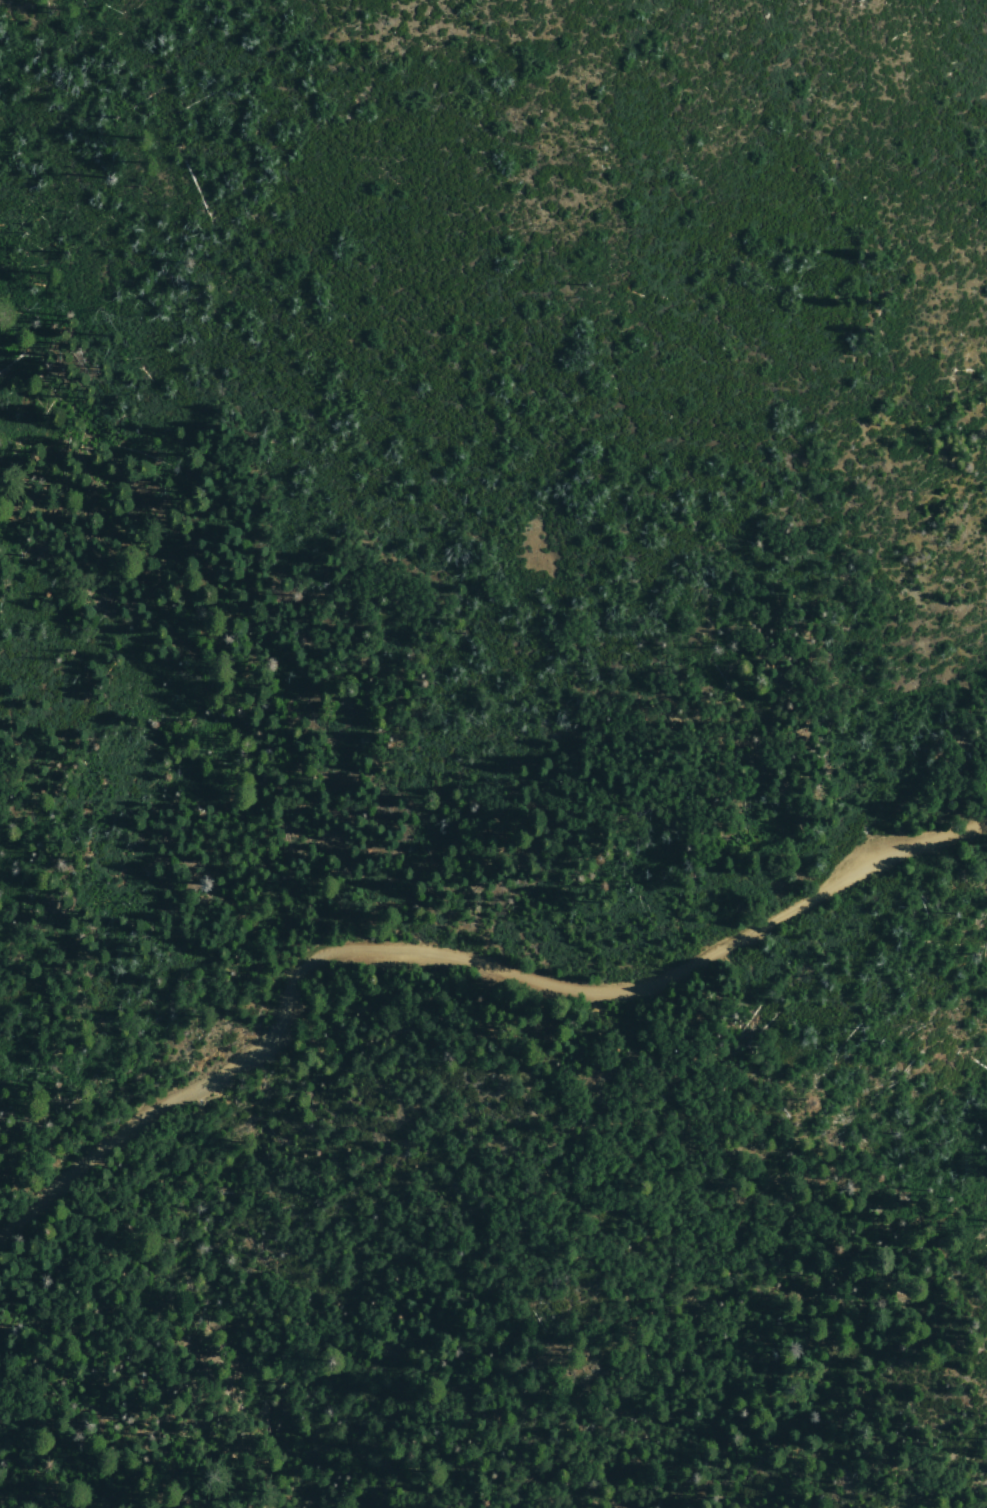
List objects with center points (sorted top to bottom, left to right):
road: (455, 957)

